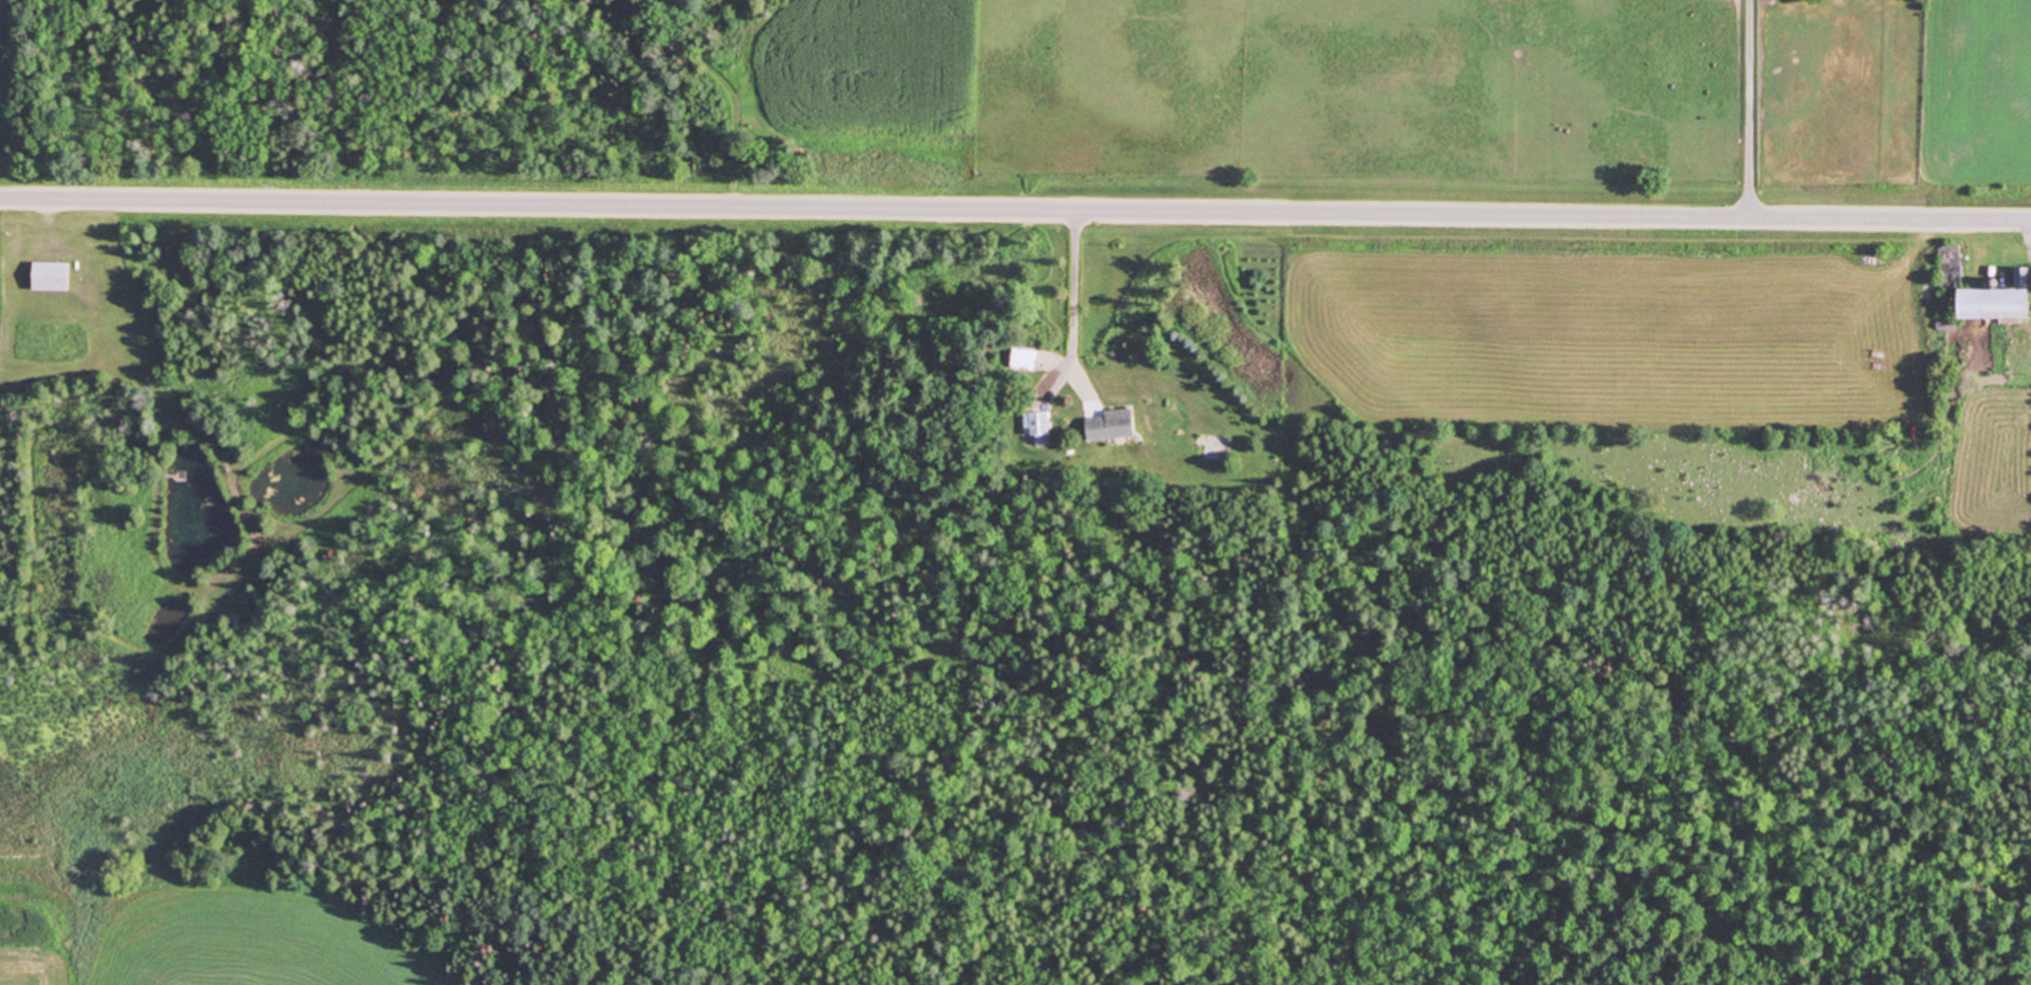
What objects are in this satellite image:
road: (1752, 109)
road: (1015, 209)
building: (50, 275)
building: (1982, 290)
road: (1076, 303)
building: (1039, 423)
building: (1108, 425)

